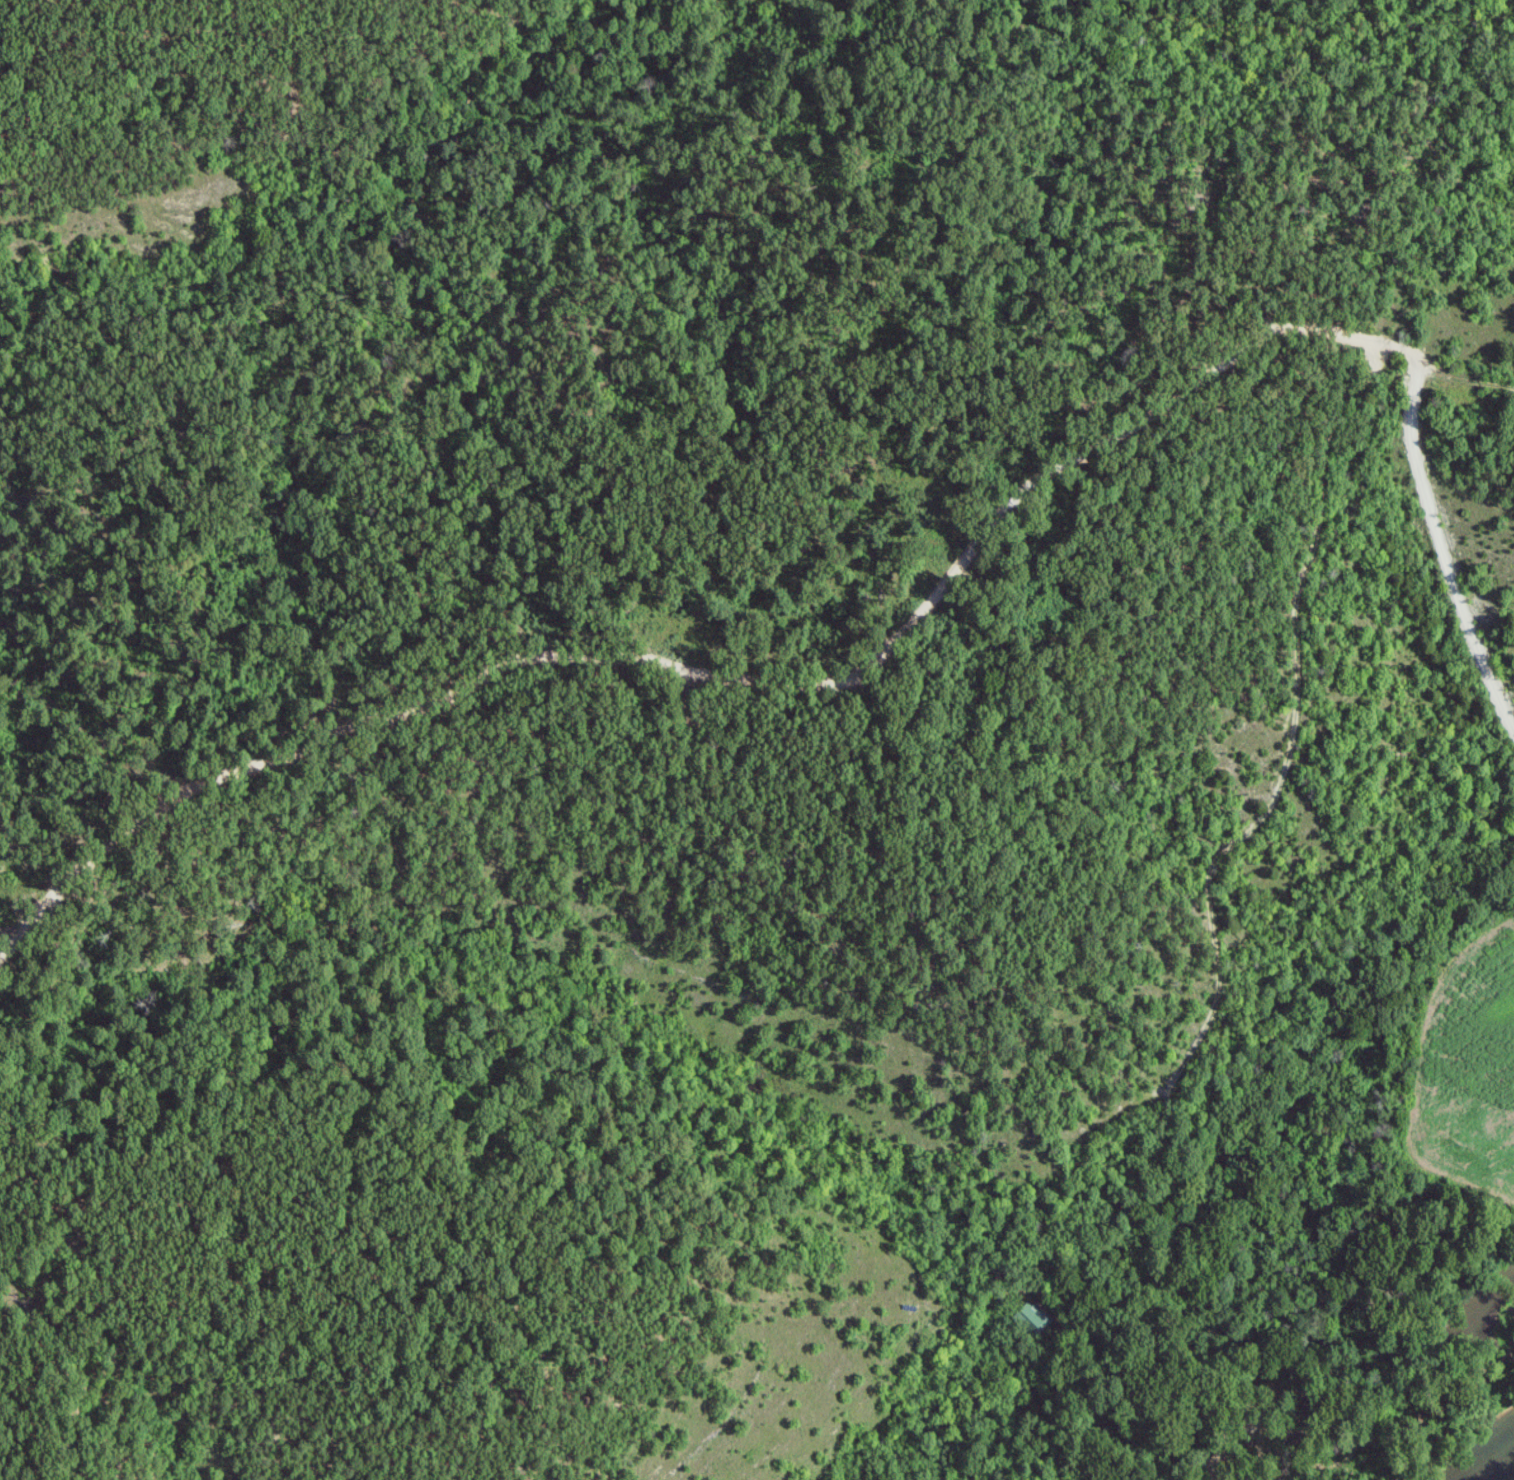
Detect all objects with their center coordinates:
road: (778, 680)
building: (1035, 1316)
river: (1486, 1465)

